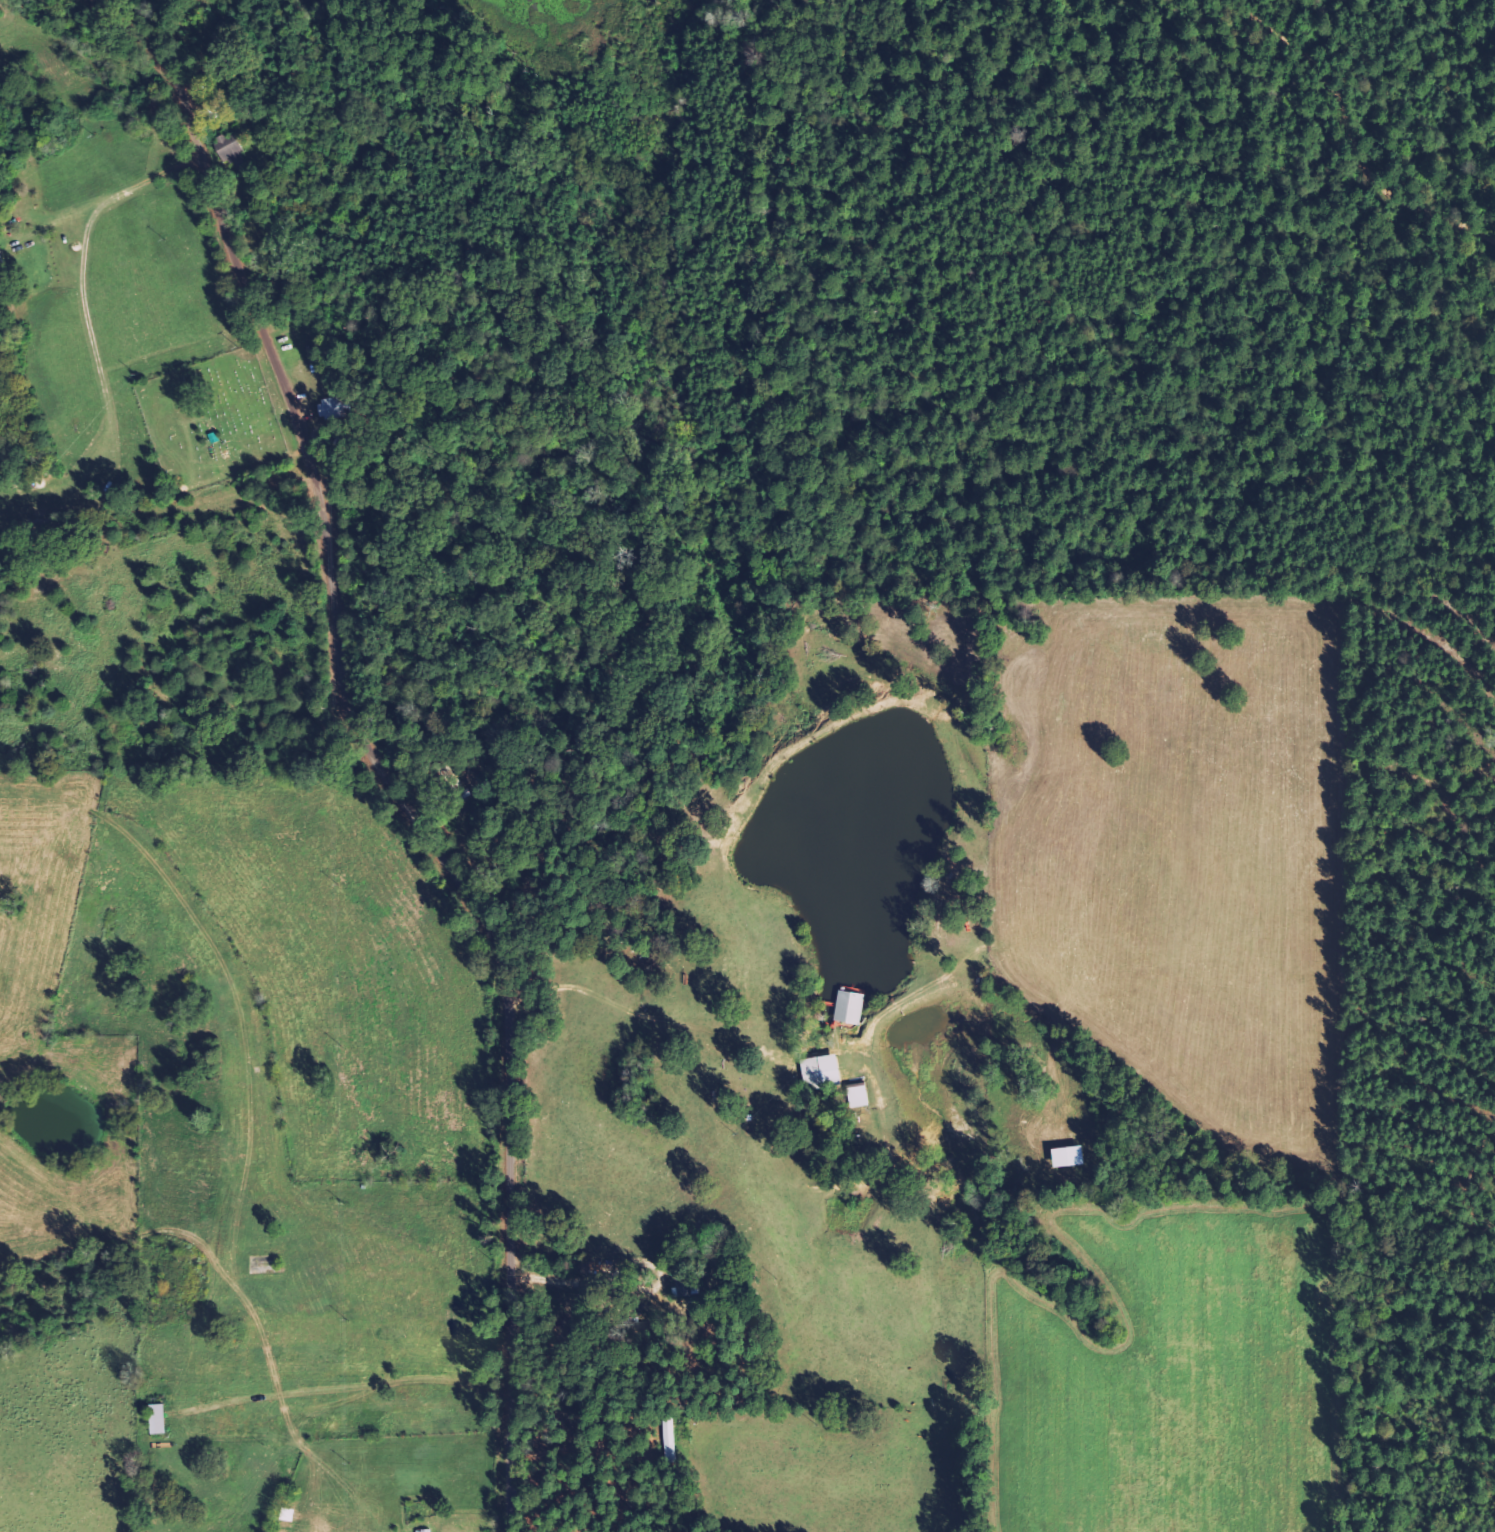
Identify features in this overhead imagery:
building: (232, 150)
road: (109, 195)
building: (2, 257)
park: (209, 420)
road: (330, 580)
building: (852, 1007)
building: (822, 1072)
building: (859, 1095)
building: (1068, 1157)
road: (509, 1358)
building: (159, 1419)
building: (425, 1530)

